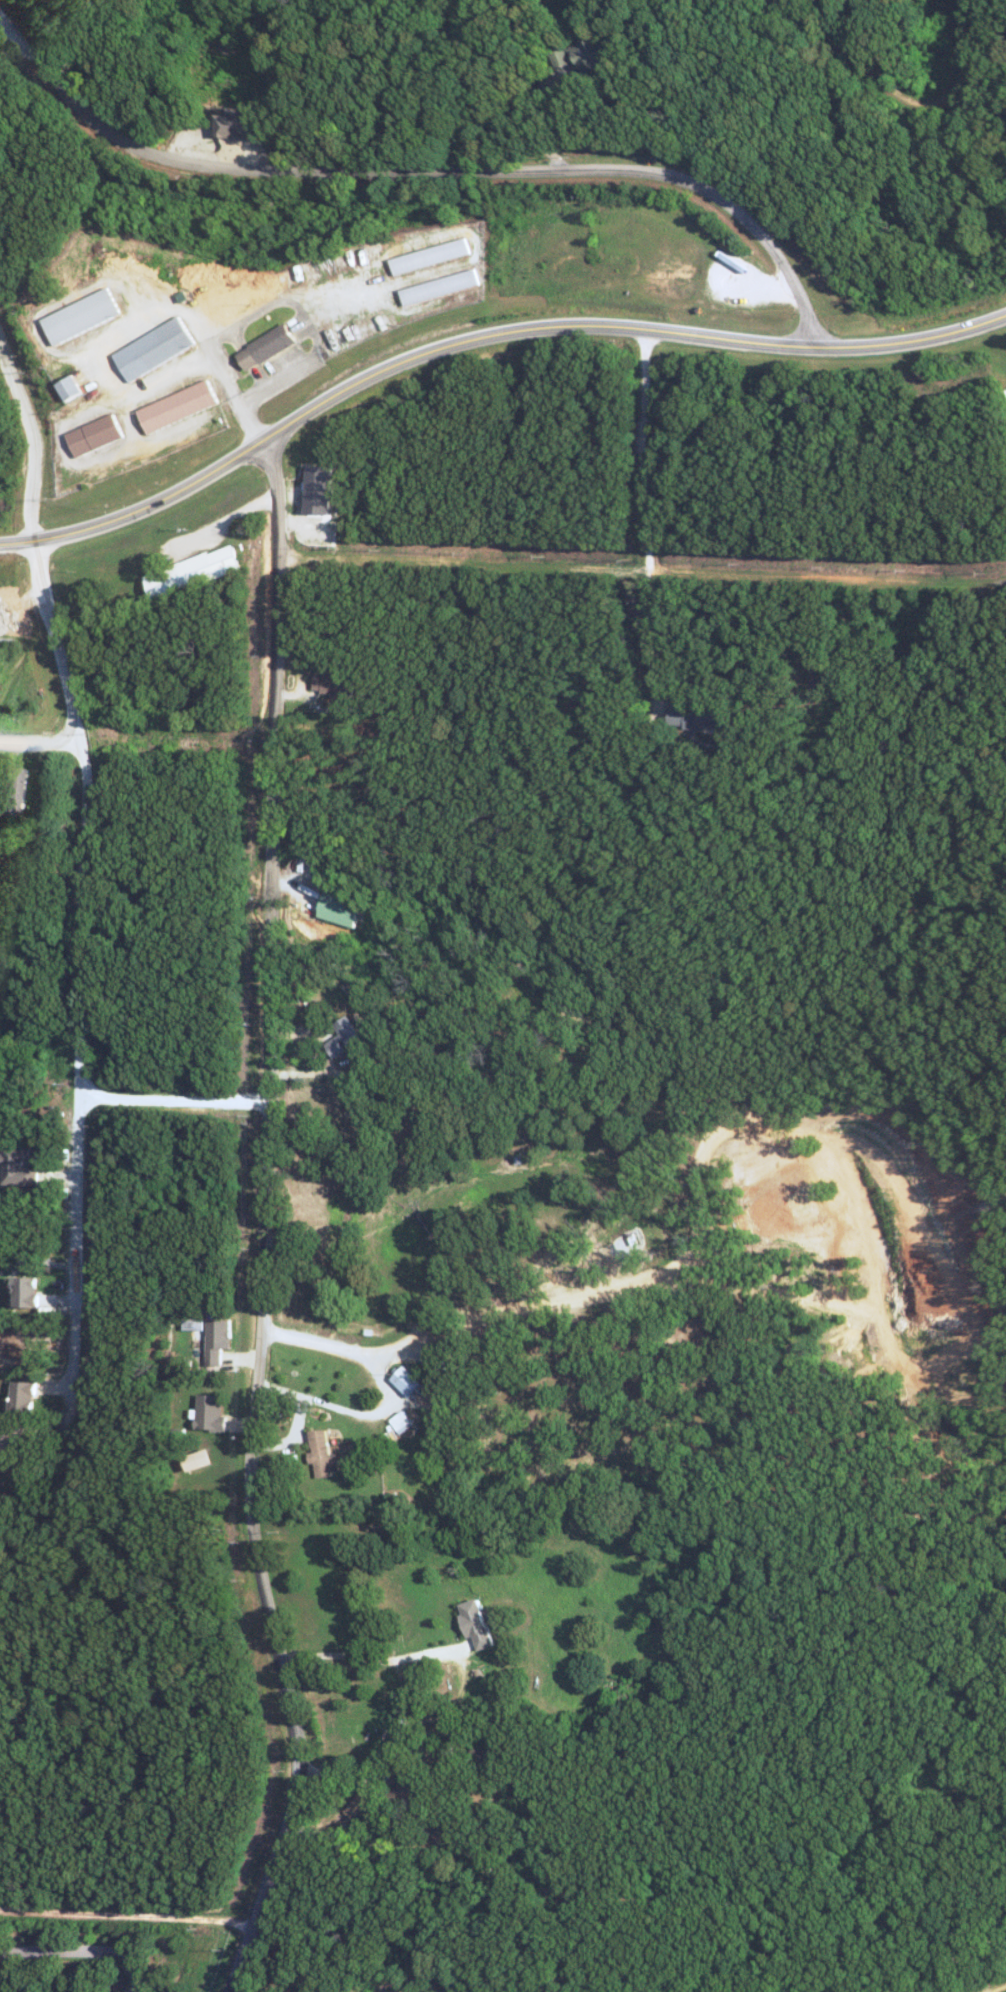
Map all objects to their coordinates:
building: (559, 56)
building: (589, 56)
road: (904, 95)
building: (234, 122)
road: (424, 172)
building: (429, 256)
building: (437, 286)
building: (83, 316)
road: (482, 334)
building: (267, 347)
building: (155, 348)
building: (71, 387)
building: (179, 406)
road: (38, 435)
building: (95, 435)
building: (317, 489)
road: (648, 524)
road: (642, 571)
building: (192, 572)
road: (55, 642)
building: (331, 683)
building: (694, 719)
road: (39, 748)
building: (8, 791)
building: (336, 908)
building: (341, 1036)
road: (176, 1102)
road: (85, 1104)
building: (14, 1164)
road: (263, 1220)
building: (22, 1291)
building: (194, 1335)
building: (214, 1339)
building: (403, 1381)
building: (20, 1395)
road: (383, 1398)
building: (207, 1412)
building: (398, 1421)
road: (290, 1443)
building: (318, 1452)
building: (196, 1459)
building: (474, 1622)
road: (362, 1656)
building: (355, 1805)
road: (81, 1956)

